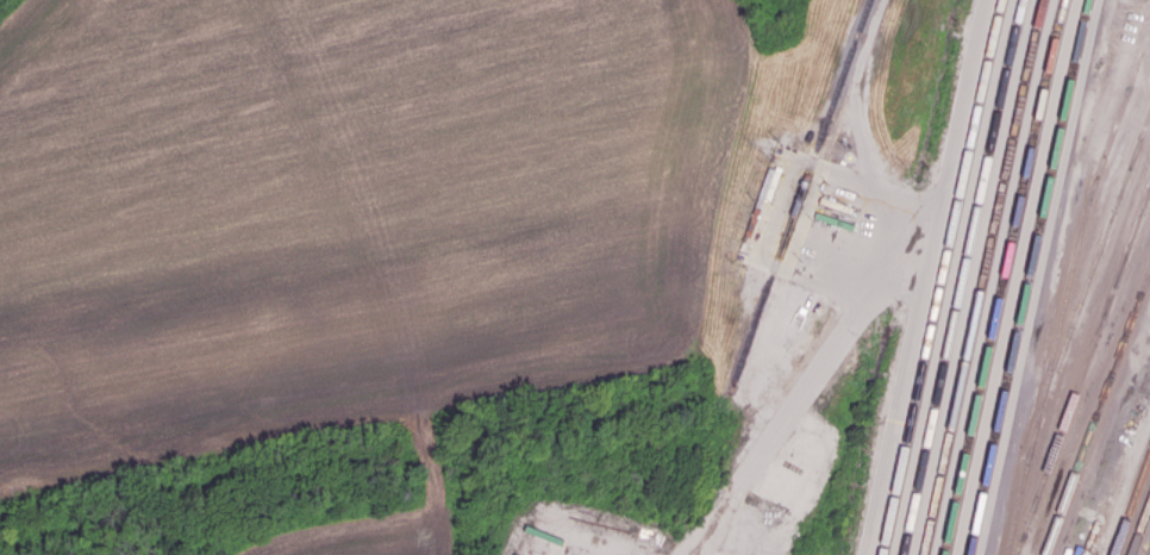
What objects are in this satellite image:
railway: (842, 76)
crop: (349, 212)
railway: (1090, 272)
railway: (942, 276)
railway: (962, 276)
railway: (982, 276)
railway: (1002, 276)
railway: (1027, 277)
railway: (1067, 289)
railway: (1082, 372)
railway: (1096, 410)
railway: (1130, 501)
crop: (373, 525)
railway: (1139, 528)
railway: (1145, 544)

